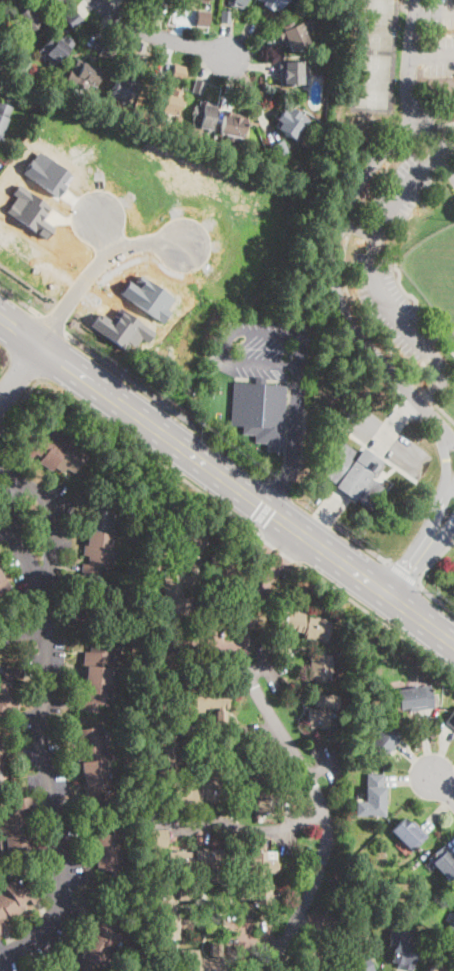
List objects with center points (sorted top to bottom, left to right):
building: (165, 1)
building: (190, 1)
building: (204, 1)
building: (235, 2)
building: (56, 3)
building: (274, 3)
road: (434, 12)
parking lot: (439, 13)
building: (226, 17)
building: (73, 18)
building: (202, 18)
building: (25, 19)
park: (377, 24)
building: (294, 35)
road: (159, 36)
building: (56, 49)
building: (108, 50)
parking lot: (438, 54)
road: (431, 55)
road: (409, 59)
building: (179, 72)
building: (292, 73)
building: (87, 74)
park: (373, 80)
building: (126, 87)
building: (199, 87)
building: (172, 102)
building: (4, 115)
building: (203, 115)
building: (290, 122)
road: (444, 122)
building: (232, 124)
road: (425, 130)
road: (429, 135)
building: (279, 148)
road: (448, 149)
road: (448, 160)
road: (381, 173)
parking lot: (415, 177)
road: (411, 182)
park: (396, 223)
road: (352, 225)
road: (105, 226)
road: (360, 228)
road: (380, 235)
road: (96, 264)
road: (334, 264)
park: (435, 272)
road: (20, 298)
road: (421, 306)
parking lot: (393, 309)
road: (388, 315)
road: (360, 319)
road: (54, 324)
road: (19, 329)
road: (228, 330)
road: (4, 352)
road: (3, 361)
road: (23, 365)
road: (18, 371)
road: (439, 382)
road: (427, 394)
building: (349, 397)
road: (19, 401)
road: (171, 407)
road: (444, 411)
building: (260, 412)
road: (398, 414)
road: (384, 435)
road: (294, 439)
road: (451, 439)
building: (58, 453)
road: (150, 454)
building: (352, 475)
road: (449, 485)
road: (282, 487)
road: (442, 491)
road: (246, 493)
road: (325, 515)
road: (50, 520)
road: (338, 526)
road: (442, 533)
building: (99, 538)
building: (189, 544)
road: (280, 547)
building: (0, 560)
road: (433, 561)
road: (408, 569)
building: (223, 570)
road: (404, 574)
building: (4, 590)
building: (176, 594)
road: (437, 599)
building: (306, 608)
building: (209, 614)
road: (375, 617)
road: (23, 625)
building: (300, 626)
building: (169, 665)
building: (319, 668)
building: (98, 676)
building: (283, 679)
building: (448, 687)
building: (9, 690)
building: (205, 698)
building: (416, 699)
building: (322, 711)
building: (451, 721)
road: (43, 724)
building: (353, 731)
building: (386, 742)
building: (173, 745)
road: (291, 752)
building: (2, 761)
building: (353, 761)
building: (94, 763)
building: (256, 785)
road: (443, 787)
building: (200, 792)
building: (375, 795)
building: (111, 796)
road: (241, 826)
building: (19, 830)
building: (409, 833)
building: (159, 839)
building: (195, 844)
building: (106, 851)
building: (196, 860)
building: (444, 862)
building: (258, 875)
building: (213, 876)
building: (374, 878)
building: (14, 900)
building: (224, 907)
building: (171, 909)
building: (453, 922)
building: (347, 930)
building: (371, 944)
building: (97, 946)
building: (401, 951)
building: (201, 960)
building: (309, 961)
building: (363, 963)
building: (436, 969)

